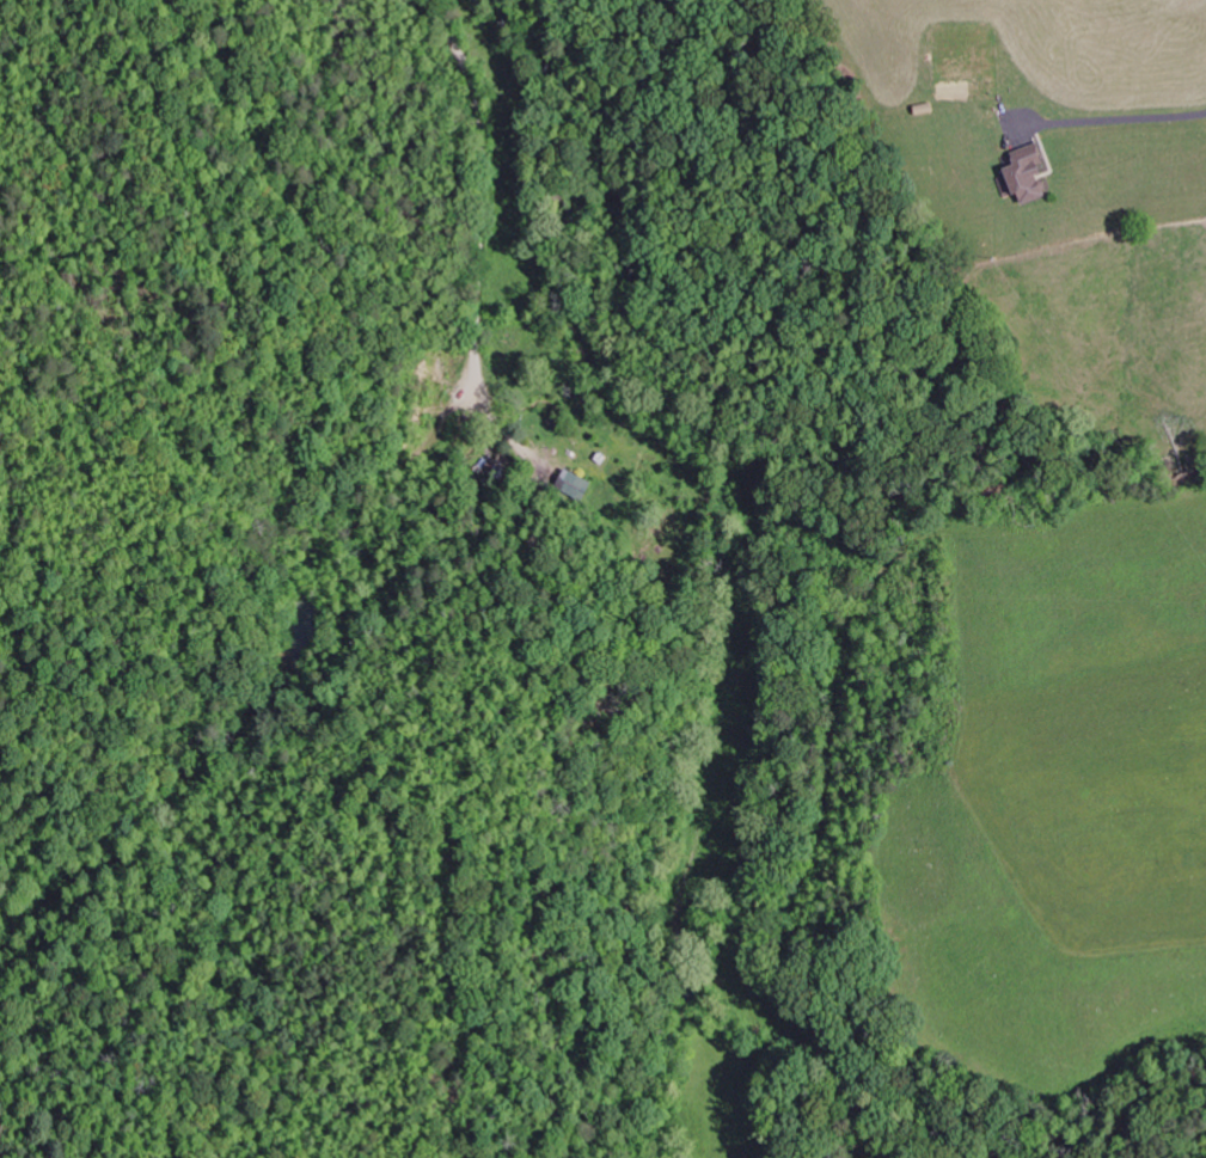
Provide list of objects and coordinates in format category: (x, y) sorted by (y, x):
road: (1112, 121)
building: (1030, 173)
road: (484, 198)

